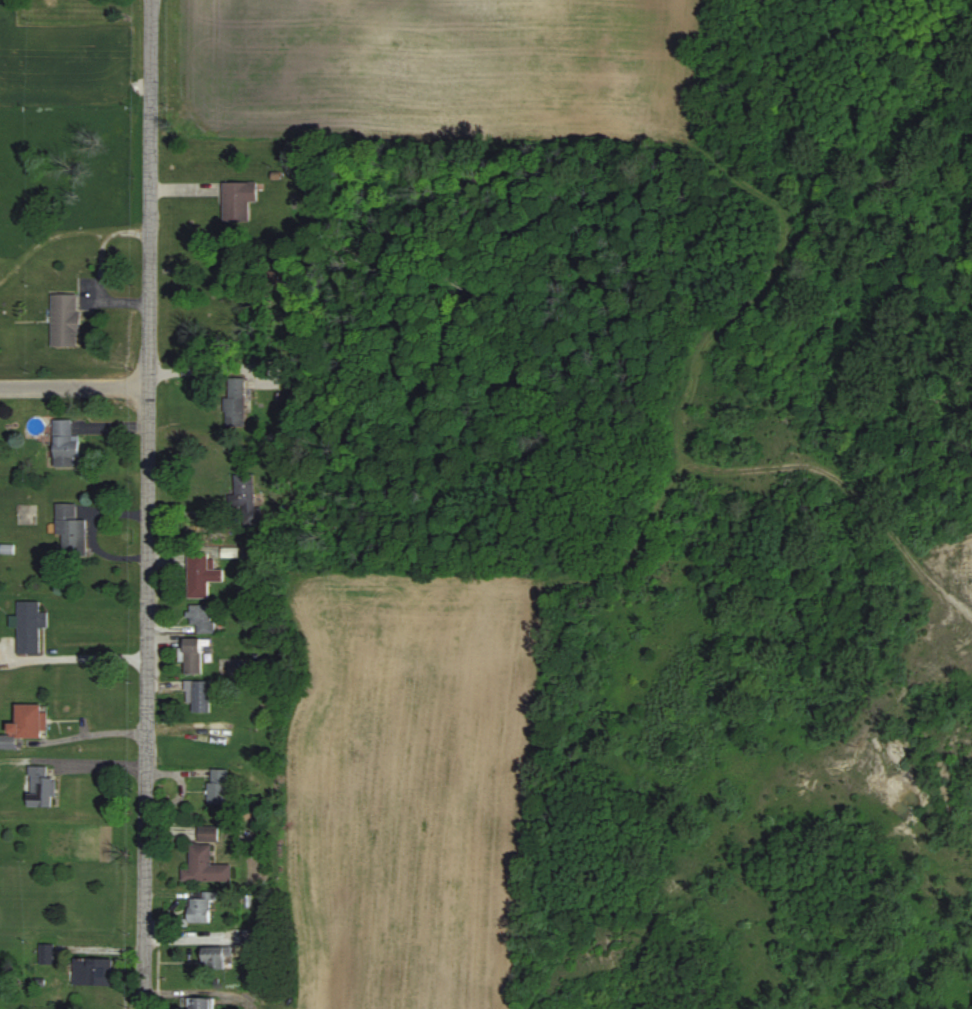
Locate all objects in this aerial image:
building: (233, 201)
road: (146, 377)
road: (73, 386)
building: (238, 401)
building: (66, 443)
building: (71, 528)
building: (202, 574)
building: (203, 618)
building: (30, 626)
building: (194, 654)
road: (88, 659)
building: (199, 695)
building: (26, 725)
road: (91, 735)
building: (219, 787)
building: (42, 788)
building: (208, 833)
building: (208, 866)
road: (144, 882)
building: (205, 907)
building: (232, 950)
building: (50, 954)
building: (96, 971)
road: (199, 992)
building: (204, 1003)

